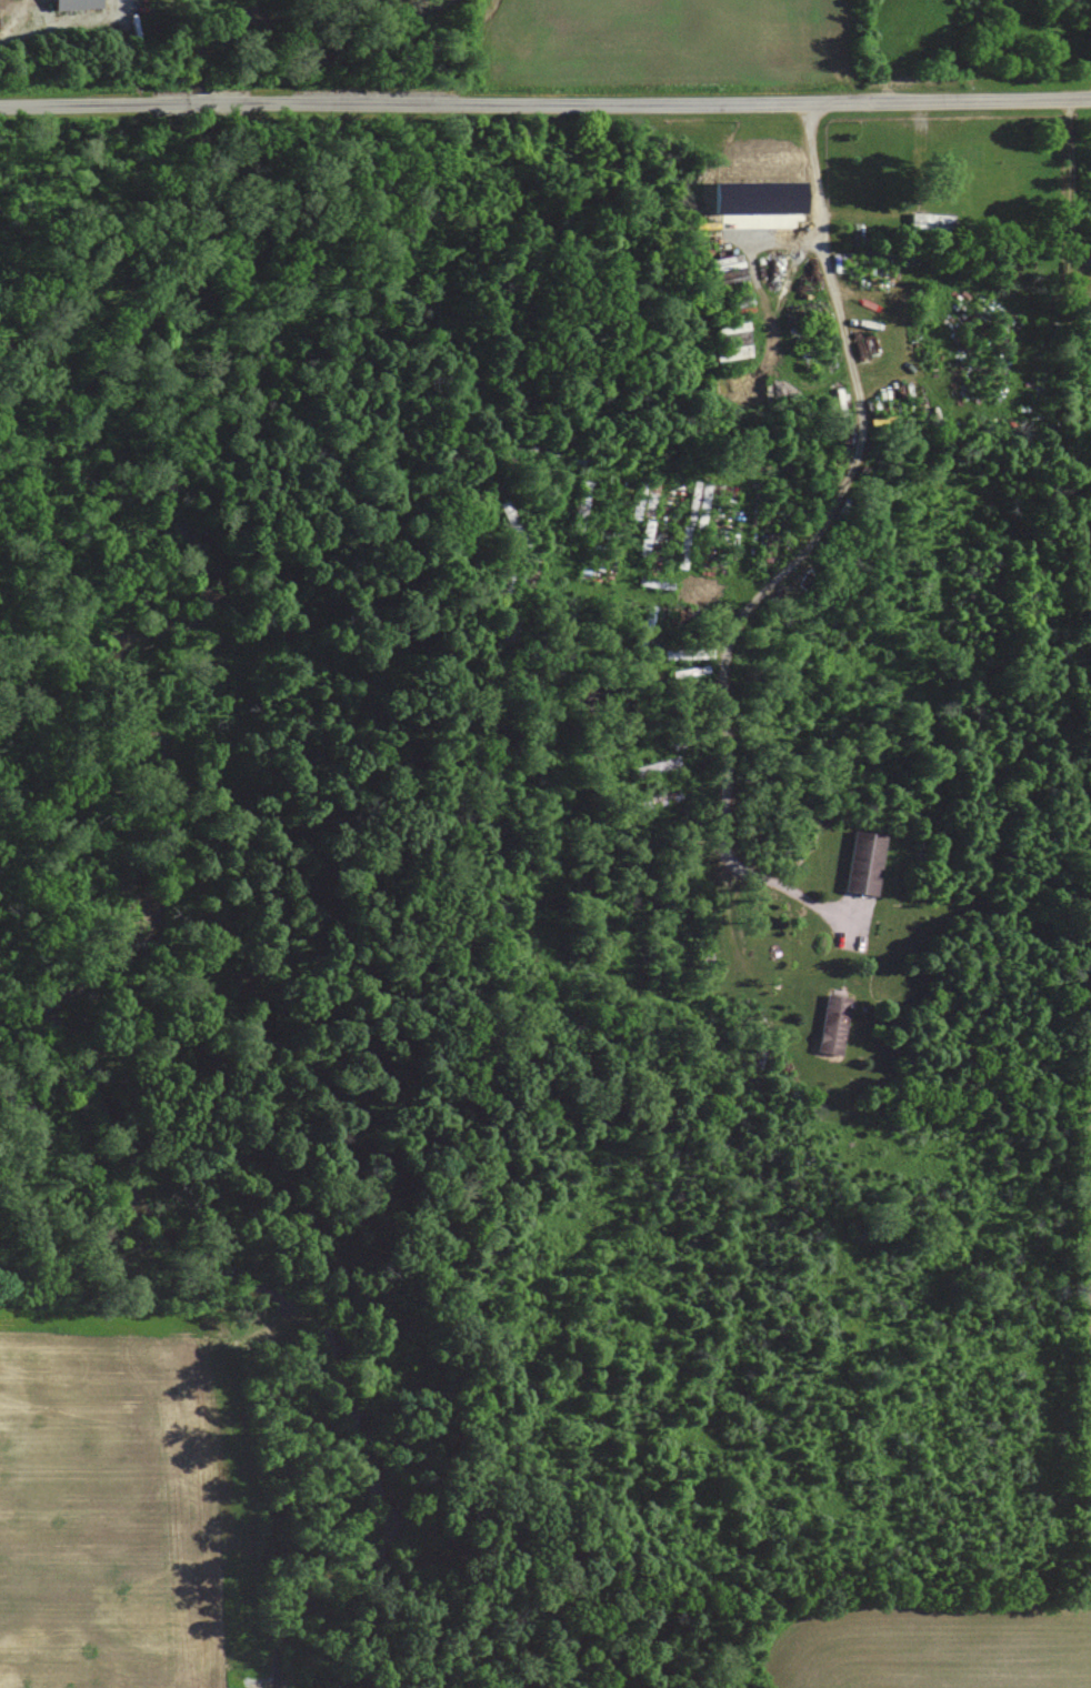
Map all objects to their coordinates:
road: (20, 19)
road: (544, 105)
road: (1071, 189)
building: (743, 205)
building: (931, 223)
road: (808, 546)
building: (864, 864)
building: (833, 1024)

